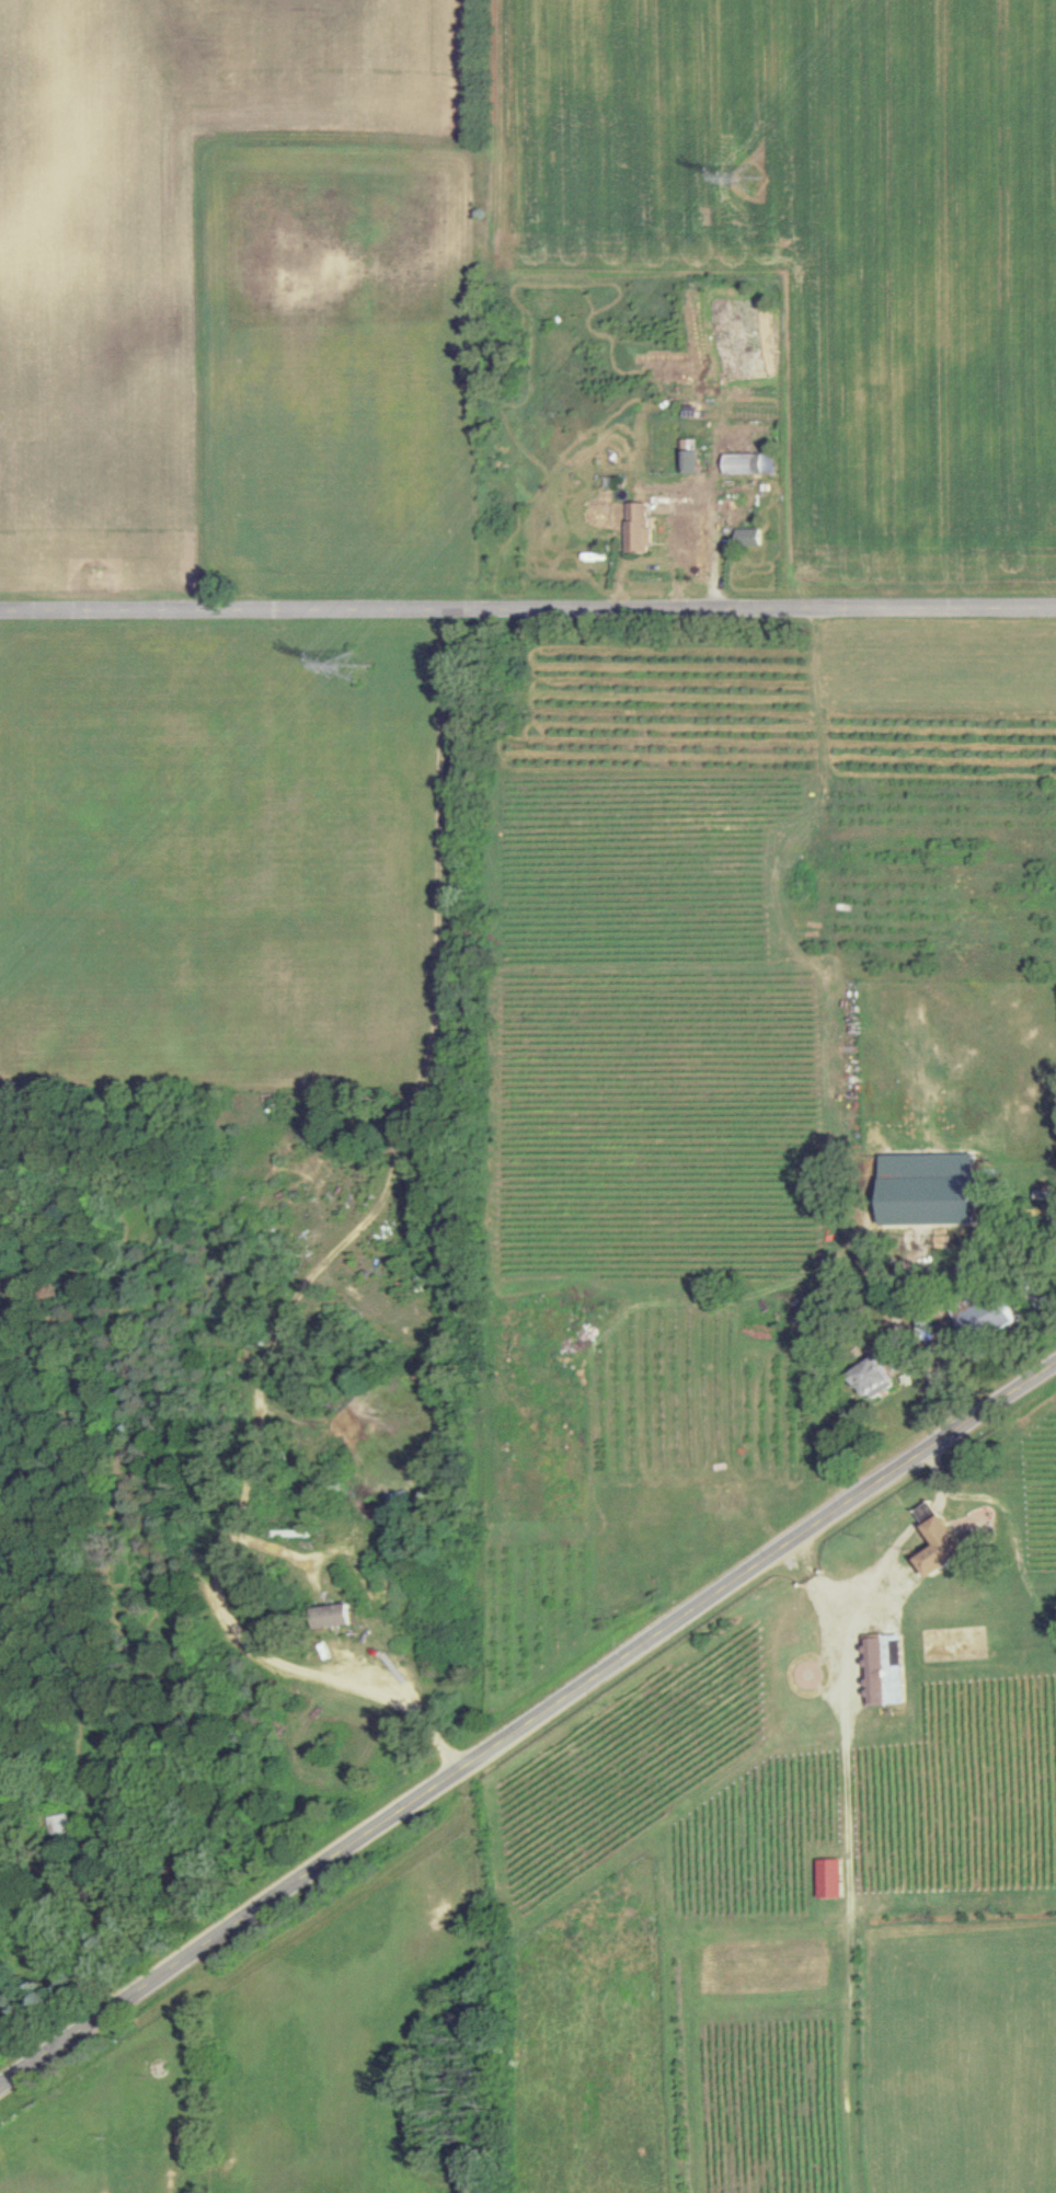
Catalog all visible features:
power tower: (747, 180)
building: (690, 459)
building: (749, 464)
building: (640, 529)
building: (749, 538)
road: (527, 613)
power tower: (354, 669)
building: (928, 1190)
road: (329, 1260)
building: (989, 1319)
building: (879, 1379)
building: (953, 1539)
building: (333, 1617)
building: (886, 1676)
road: (529, 1731)
building: (61, 1824)
building: (833, 1878)

